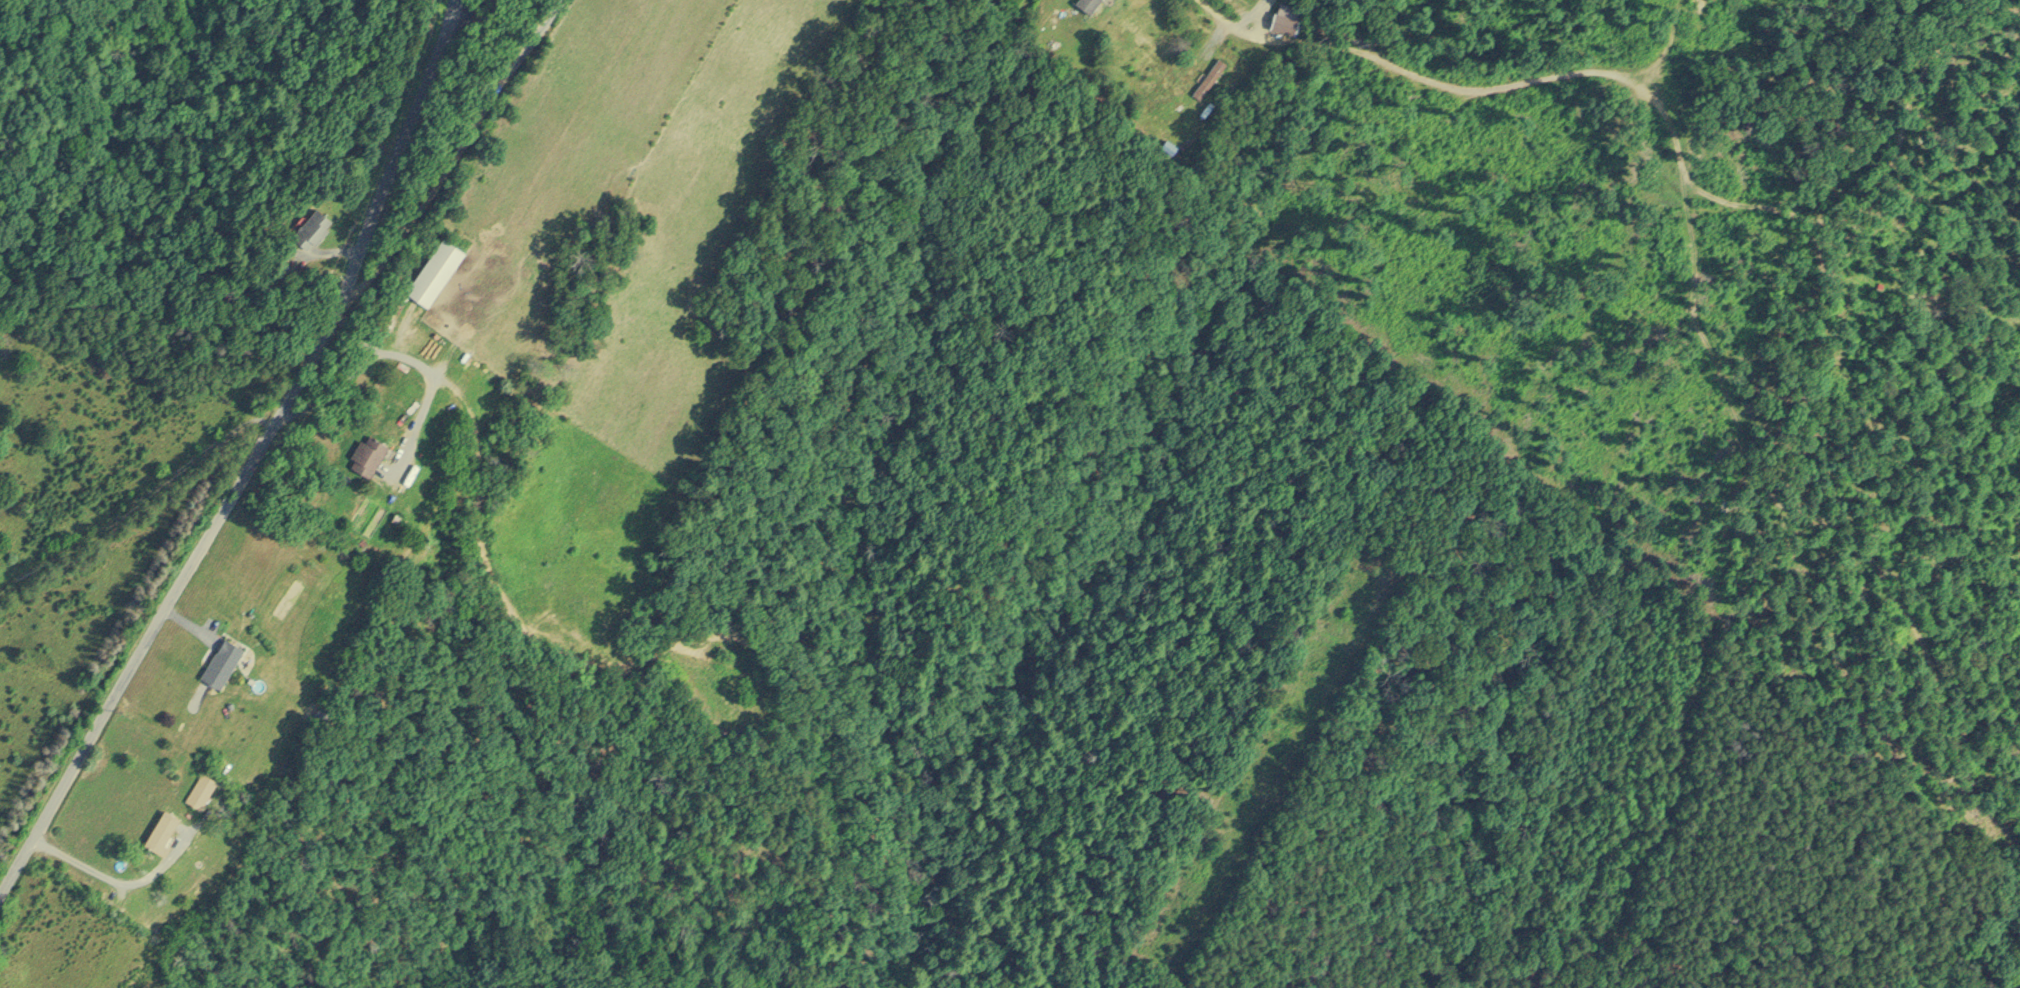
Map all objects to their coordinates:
building: (1084, 5)
road: (469, 6)
road: (1222, 16)
building: (1208, 78)
road: (399, 152)
road: (456, 157)
building: (313, 228)
building: (431, 270)
road: (432, 372)
road: (335, 390)
building: (363, 454)
road: (171, 601)
building: (217, 661)
building: (198, 789)
building: (156, 831)
road: (112, 876)

